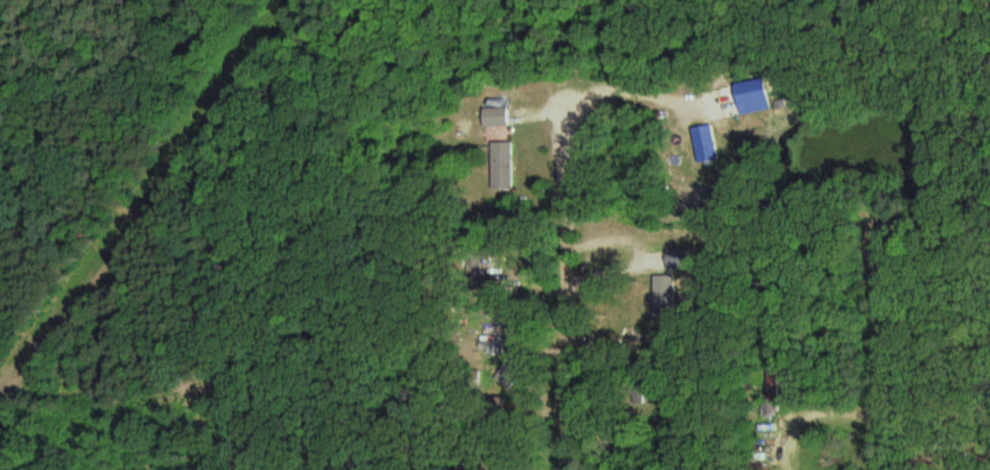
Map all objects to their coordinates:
building: (497, 115)
building: (707, 142)
building: (504, 163)
road: (572, 331)
road: (883, 344)

